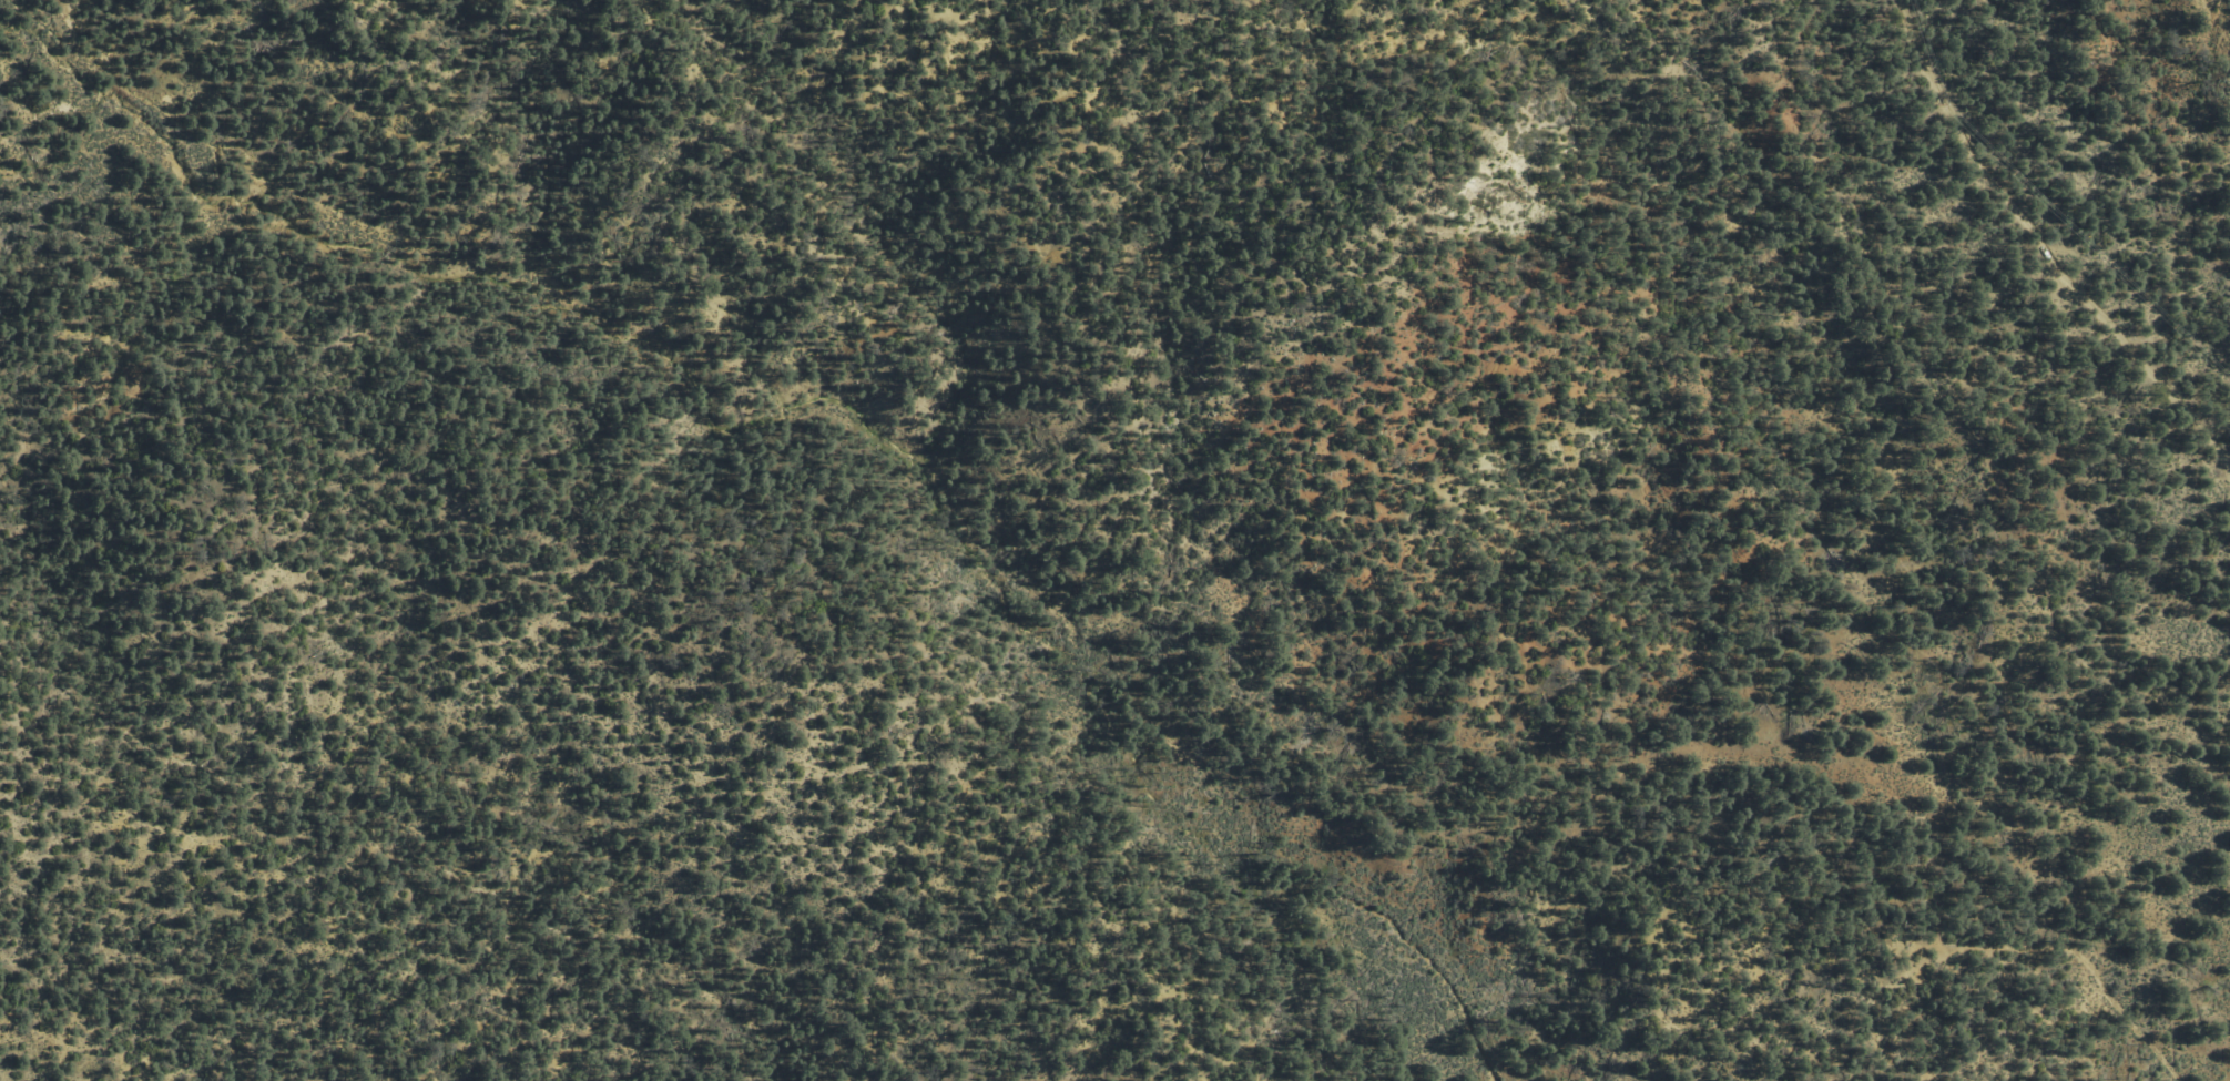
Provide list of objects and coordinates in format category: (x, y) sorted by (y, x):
road: (1989, 180)
road: (2175, 397)
building: (1887, 945)
road: (2076, 956)

